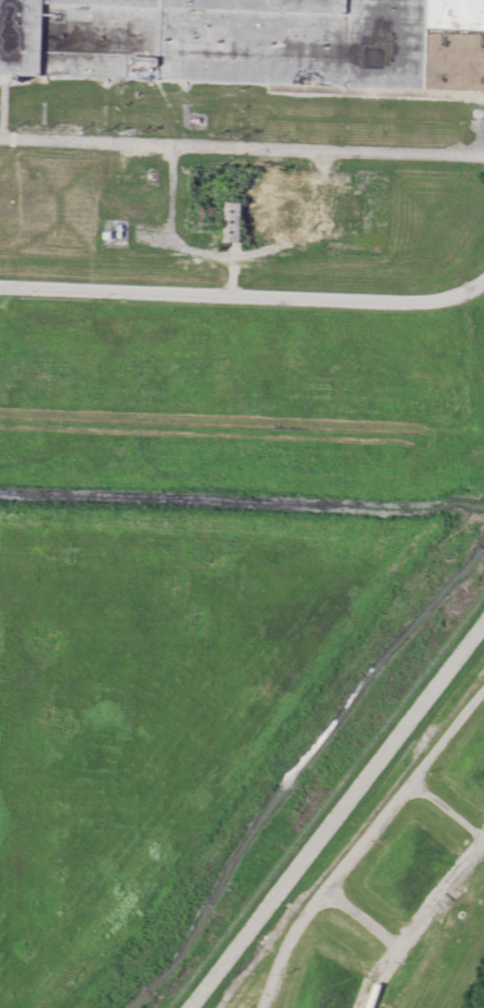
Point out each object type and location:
building: (251, 40)
road: (242, 138)
road: (244, 290)

